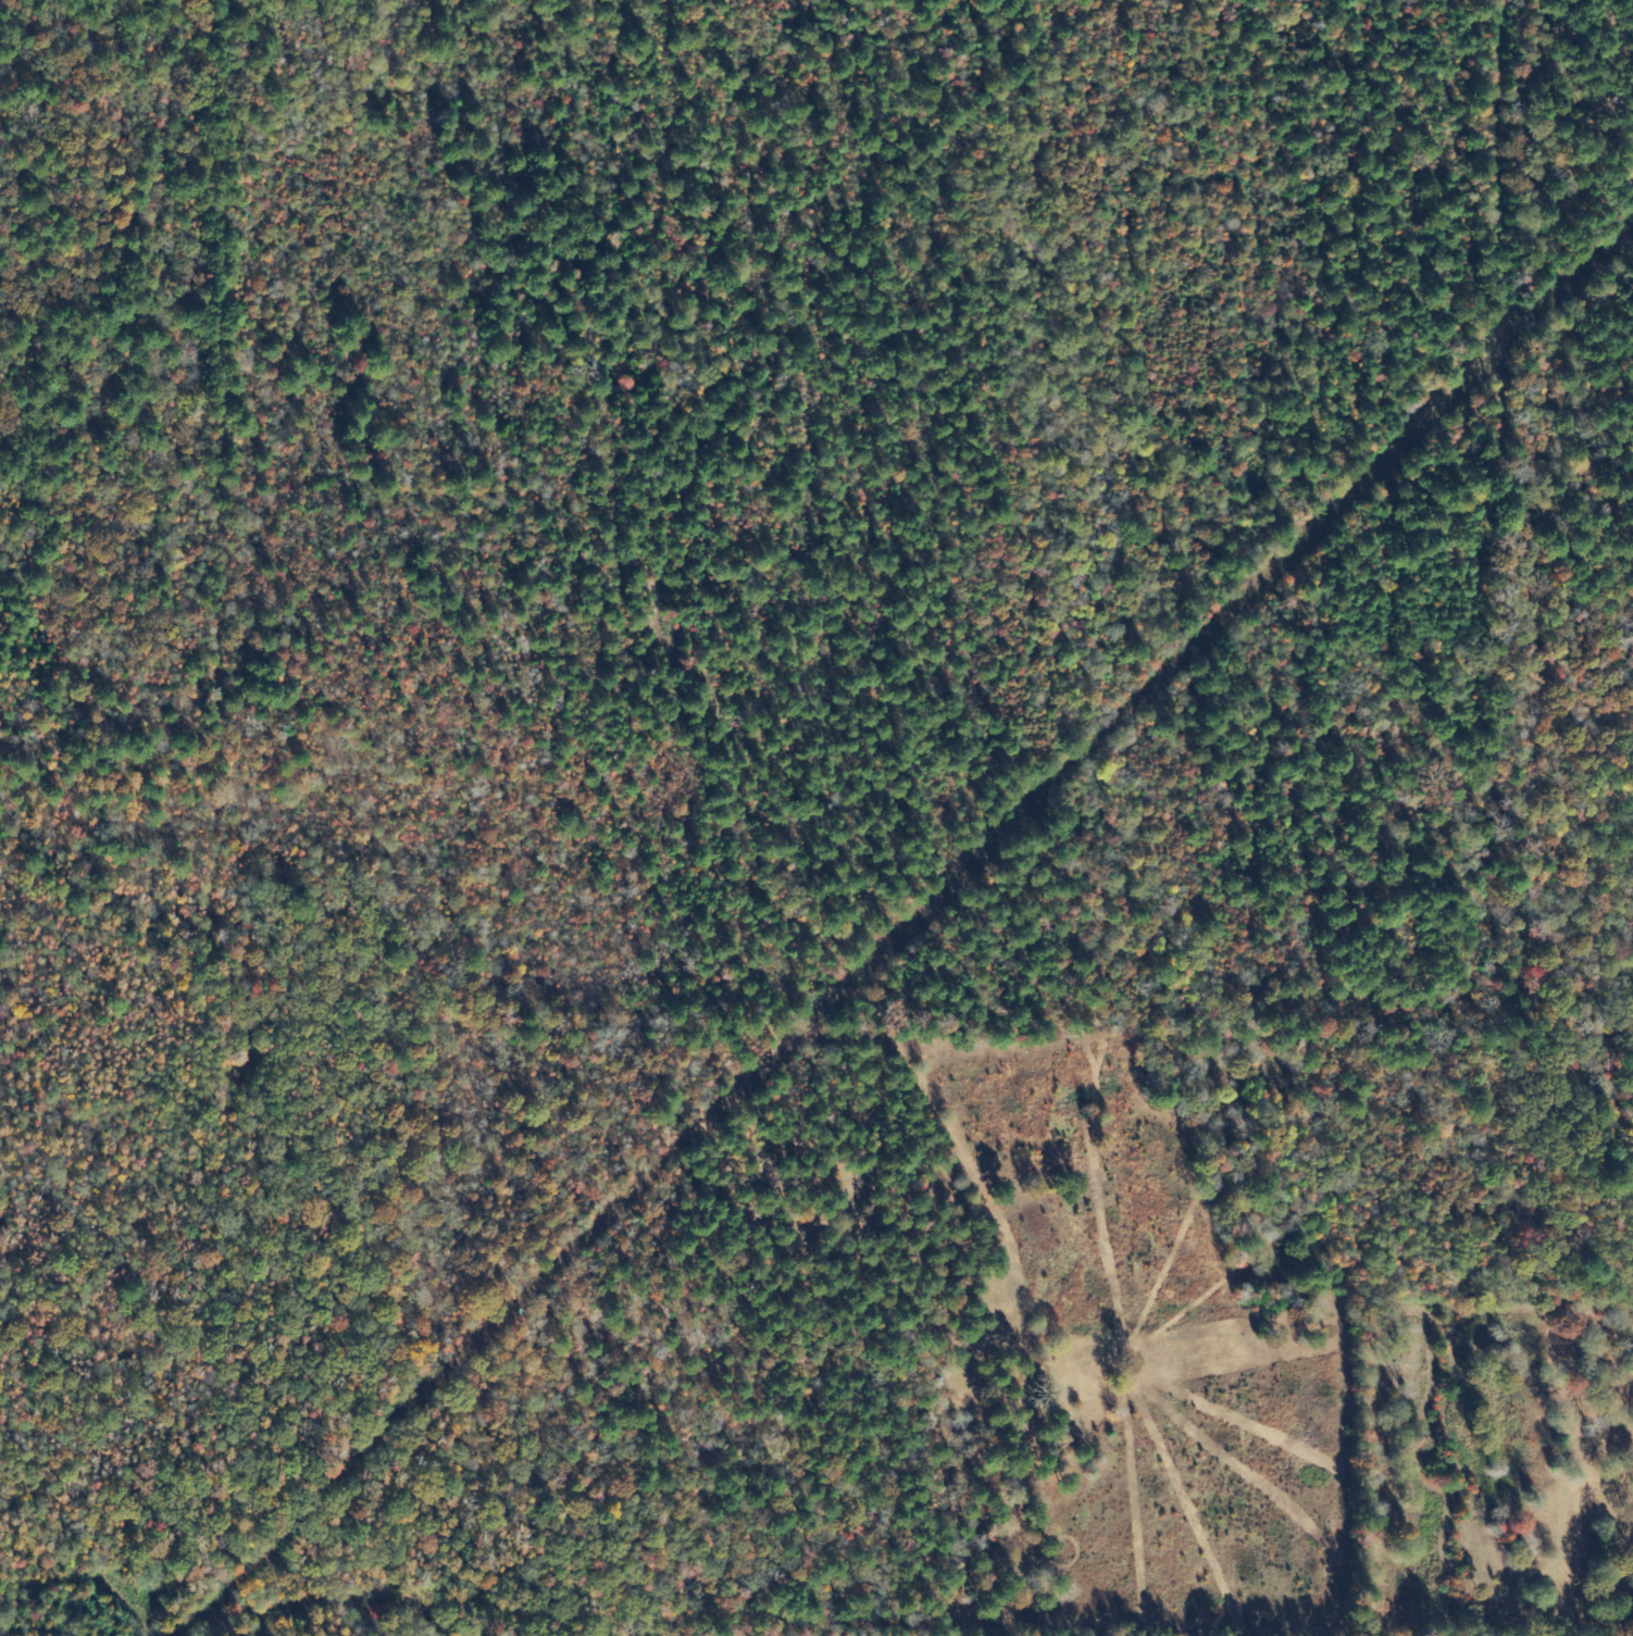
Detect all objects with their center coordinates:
road: (1611, 1287)

